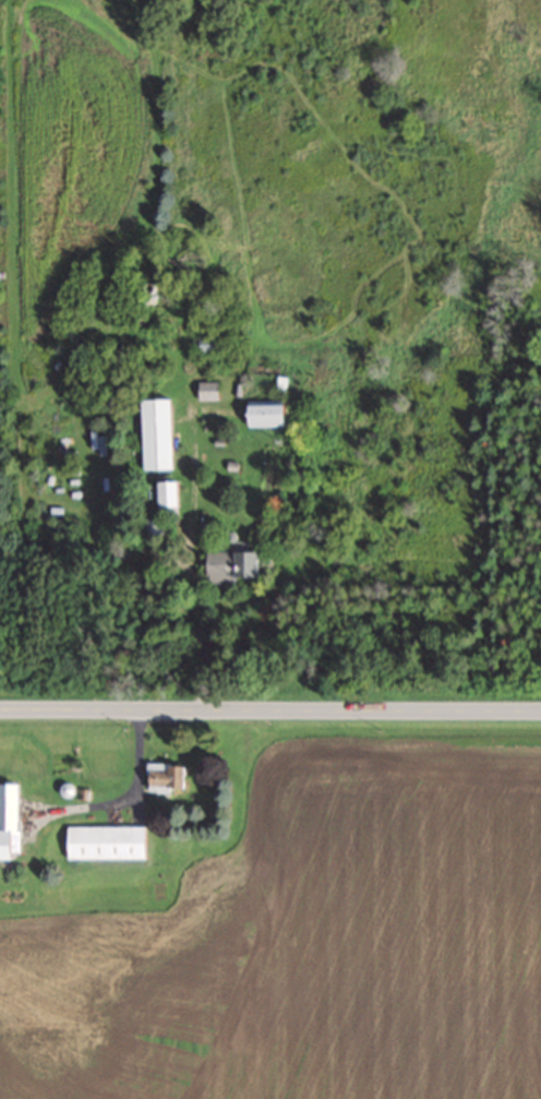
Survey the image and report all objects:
building: (159, 432)
building: (172, 492)
building: (154, 528)
building: (238, 563)
road: (269, 712)
building: (168, 776)
building: (13, 821)
building: (109, 840)

